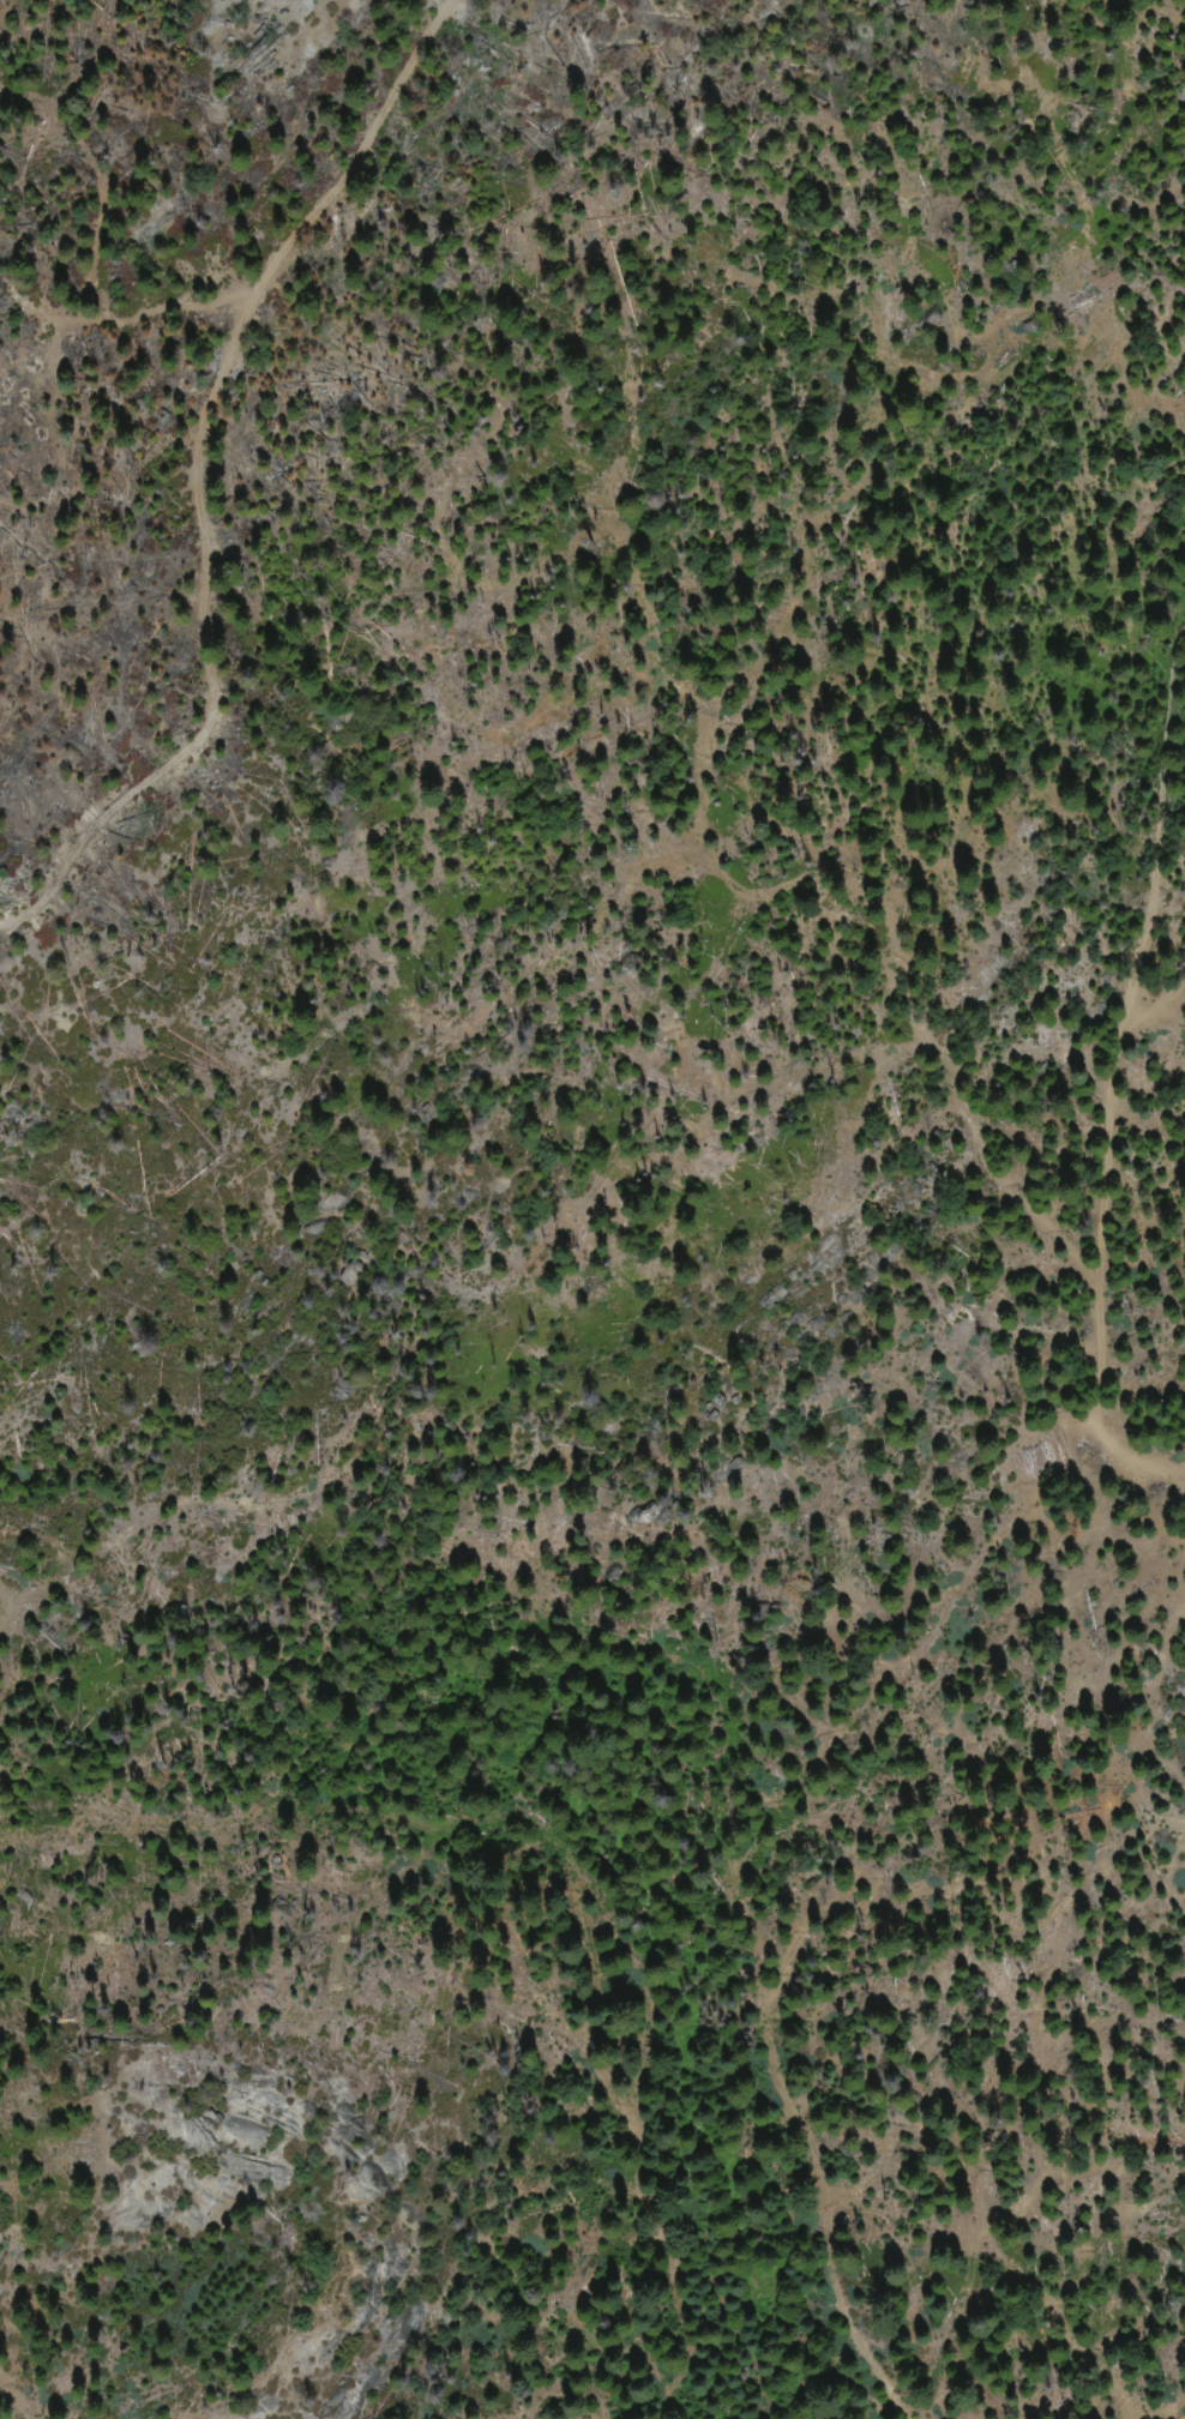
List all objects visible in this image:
road: (190, 474)
road: (1160, 993)
road: (1120, 1118)

